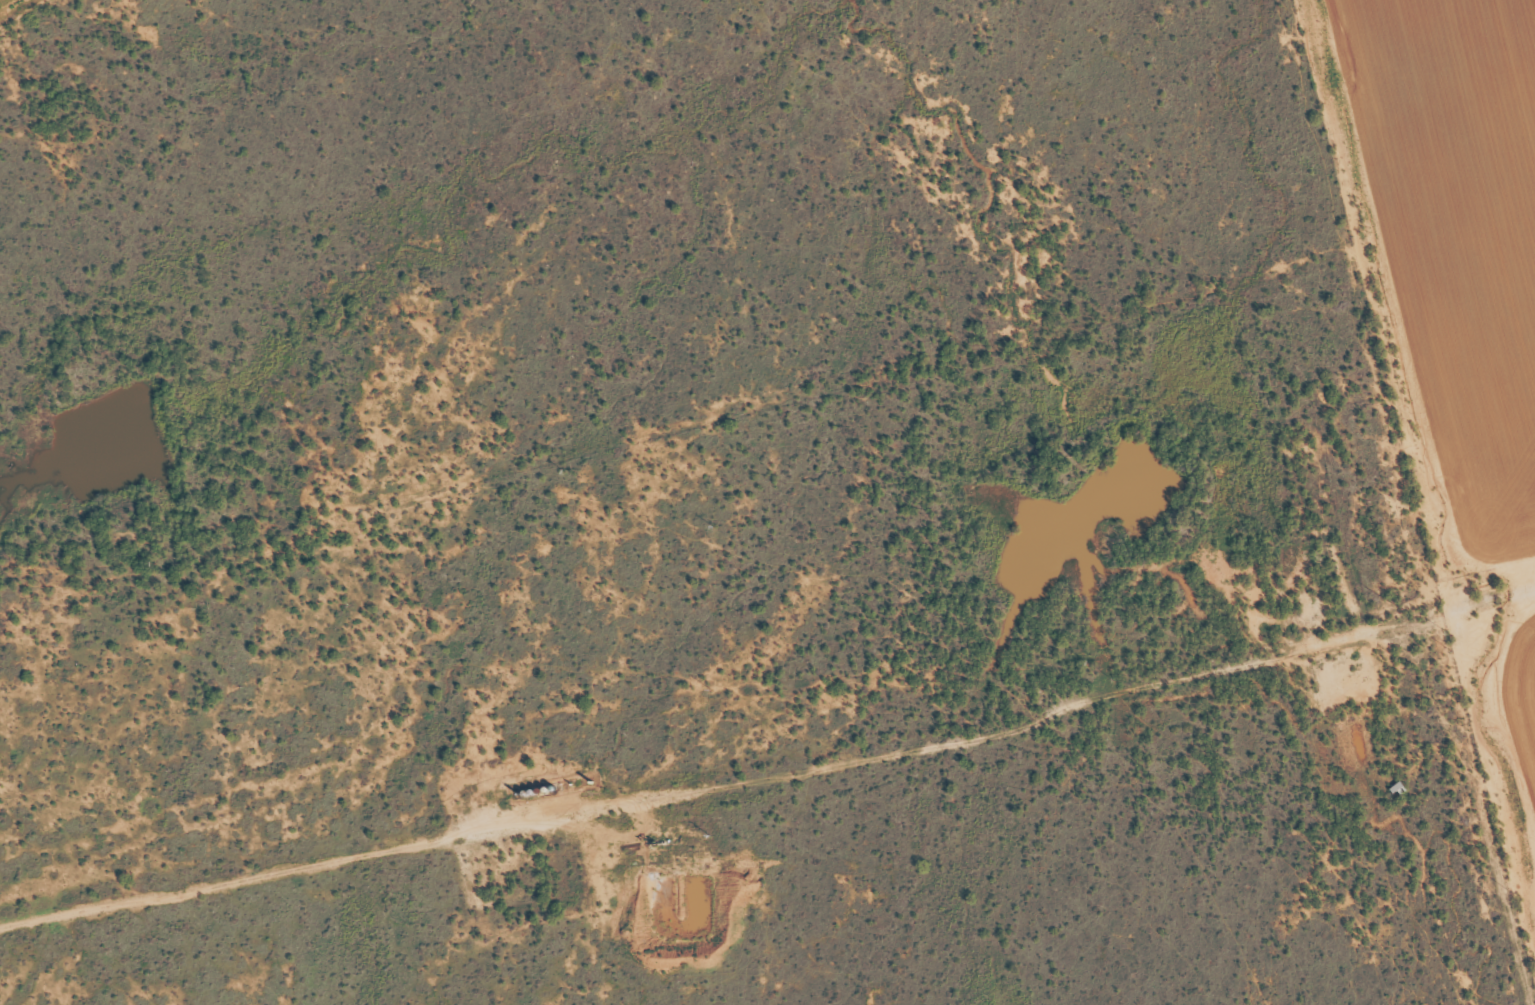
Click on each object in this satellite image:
road: (1336, 654)

